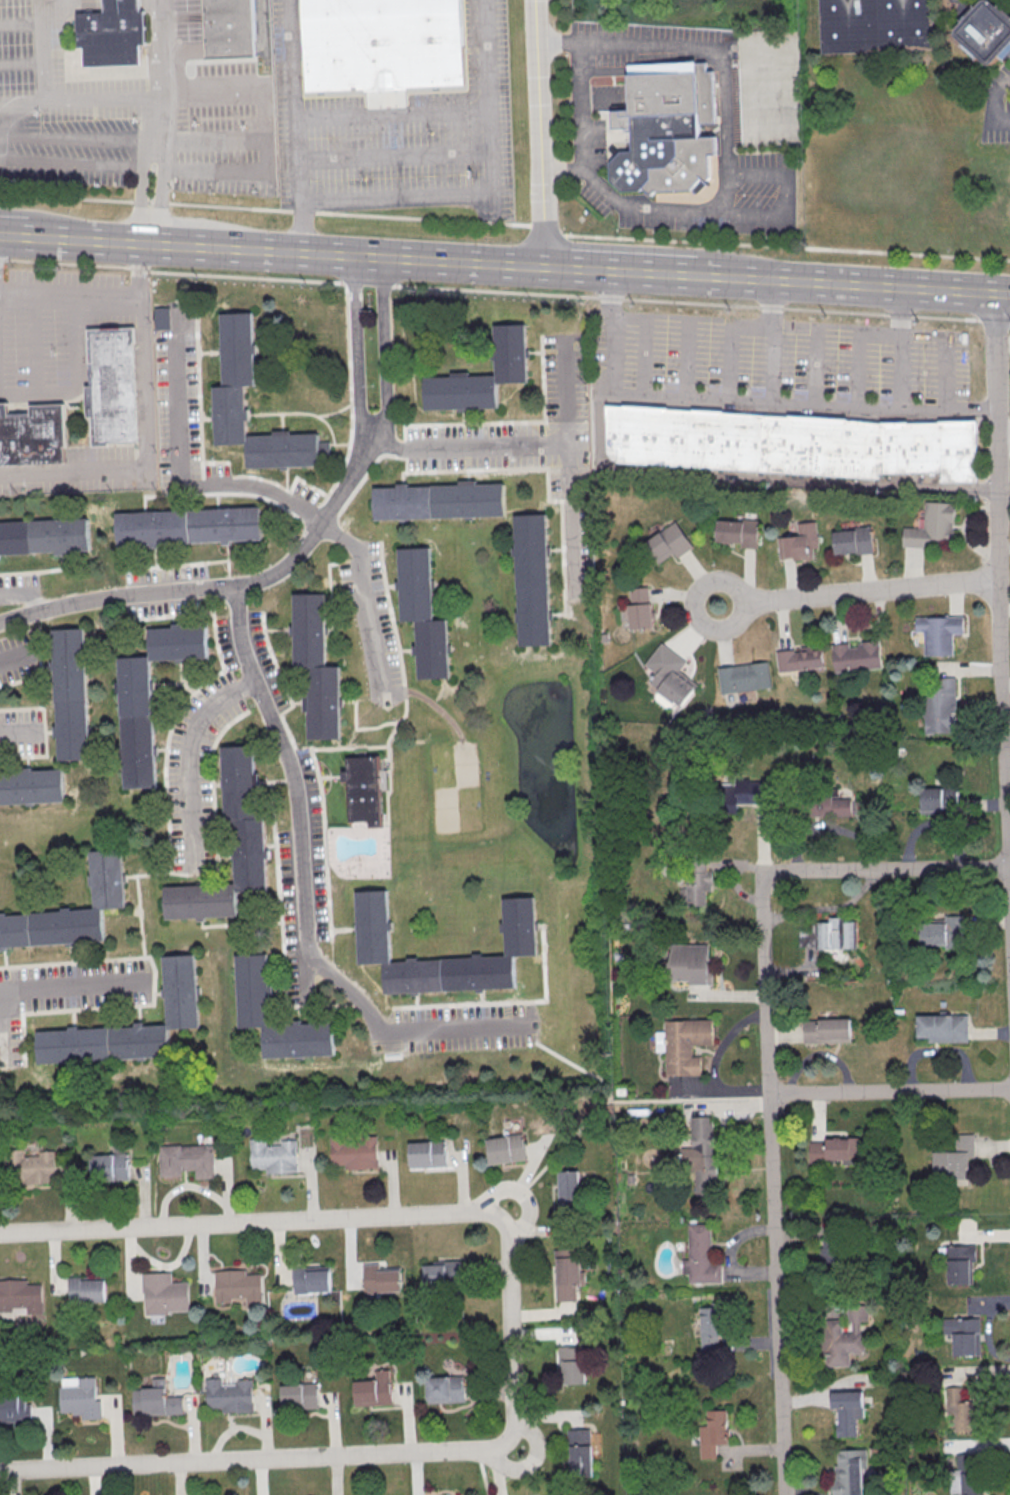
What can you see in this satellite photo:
building: (877, 26)
building: (983, 28)
road: (159, 31)
building: (112, 34)
building: (381, 44)
building: (227, 55)
road: (45, 75)
road: (1001, 79)
road: (102, 98)
road: (295, 100)
road: (157, 107)
road: (584, 109)
road: (988, 111)
road: (392, 113)
building: (667, 129)
road: (722, 132)
road: (539, 133)
road: (394, 156)
road: (788, 191)
road: (139, 194)
road: (492, 194)
road: (159, 195)
road: (66, 198)
road: (138, 200)
road: (149, 201)
road: (160, 202)
road: (230, 206)
road: (303, 211)
road: (422, 218)
road: (300, 226)
road: (546, 229)
road: (18, 234)
road: (168, 243)
road: (786, 246)
road: (342, 255)
road: (462, 262)
road: (621, 270)
road: (856, 285)
road: (504, 292)
road: (70, 293)
road: (773, 302)
building: (162, 317)
parking lot: (54, 329)
road: (645, 341)
road: (33, 344)
road: (732, 344)
road: (356, 348)
road: (384, 350)
road: (857, 350)
road: (902, 350)
parking lot: (782, 358)
road: (687, 360)
road: (773, 365)
road: (817, 368)
road: (947, 372)
building: (481, 375)
road: (79, 382)
building: (113, 386)
building: (227, 398)
road: (742, 402)
road: (602, 425)
road: (148, 430)
building: (33, 435)
road: (1003, 438)
building: (792, 442)
road: (467, 447)
parking lot: (534, 451)
road: (567, 468)
parking lot: (80, 473)
road: (801, 479)
road: (276, 494)
building: (438, 502)
building: (933, 526)
building: (186, 527)
building: (737, 532)
building: (43, 537)
building: (852, 540)
building: (799, 542)
building: (667, 543)
building: (530, 581)
road: (219, 587)
parking lot: (17, 589)
road: (858, 592)
road: (999, 592)
road: (23, 597)
building: (639, 607)
building: (421, 614)
building: (939, 633)
parking lot: (18, 656)
building: (856, 656)
road: (14, 658)
building: (800, 658)
building: (314, 668)
building: (668, 675)
building: (743, 677)
building: (69, 696)
building: (148, 697)
building: (940, 705)
road: (18, 732)
parking lot: (21, 732)
road: (1007, 752)
road: (188, 758)
park: (454, 787)
building: (31, 788)
road: (294, 788)
building: (364, 791)
building: (741, 794)
building: (939, 799)
building: (823, 807)
building: (247, 853)
building: (698, 884)
building: (69, 913)
building: (371, 927)
building: (942, 931)
building: (835, 934)
building: (806, 936)
building: (689, 963)
road: (75, 986)
building: (250, 990)
building: (179, 992)
parking lot: (64, 994)
building: (942, 1029)
road: (403, 1031)
building: (827, 1031)
road: (1, 1037)
building: (685, 1045)
road: (769, 1060)
road: (570, 1063)
road: (890, 1092)
road: (626, 1099)
building: (505, 1148)
building: (835, 1149)
building: (352, 1153)
building: (701, 1154)
building: (425, 1156)
building: (272, 1157)
building: (954, 1160)
building: (185, 1161)
building: (29, 1168)
building: (107, 1168)
building: (568, 1190)
road: (522, 1192)
road: (363, 1216)
building: (700, 1256)
building: (959, 1263)
building: (440, 1273)
building: (568, 1274)
building: (310, 1278)
building: (379, 1279)
building: (236, 1286)
building: (86, 1288)
building: (163, 1293)
building: (16, 1295)
building: (711, 1331)
building: (964, 1336)
building: (844, 1337)
building: (573, 1364)
building: (445, 1388)
building: (373, 1389)
building: (228, 1395)
building: (299, 1395)
building: (83, 1399)
building: (156, 1399)
building: (15, 1408)
building: (960, 1411)
building: (844, 1416)
building: (713, 1433)
building: (581, 1451)
road: (254, 1459)
road: (532, 1459)
road: (482, 1472)
building: (848, 1474)
building: (966, 1474)

